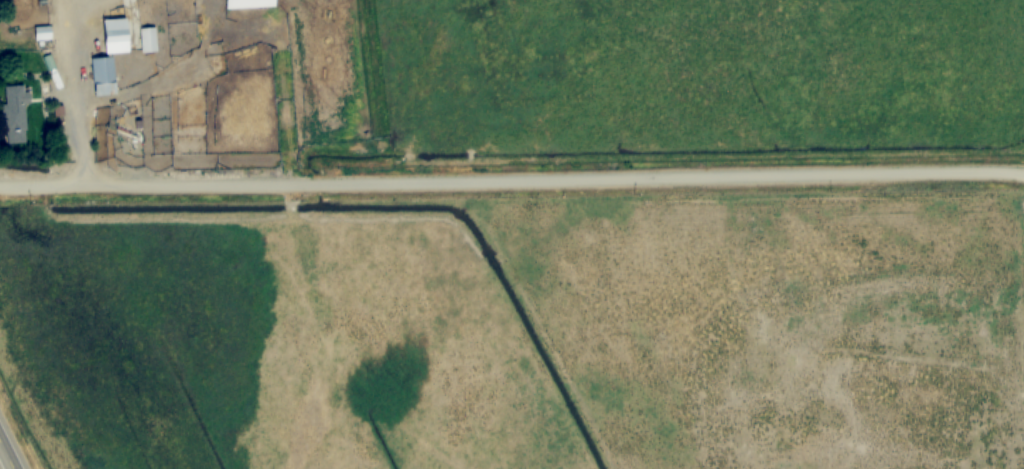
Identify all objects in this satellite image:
building: (250, 4)
building: (43, 33)
building: (117, 35)
building: (148, 39)
building: (104, 74)
road: (72, 92)
building: (16, 114)
road: (511, 179)
road: (5, 457)

